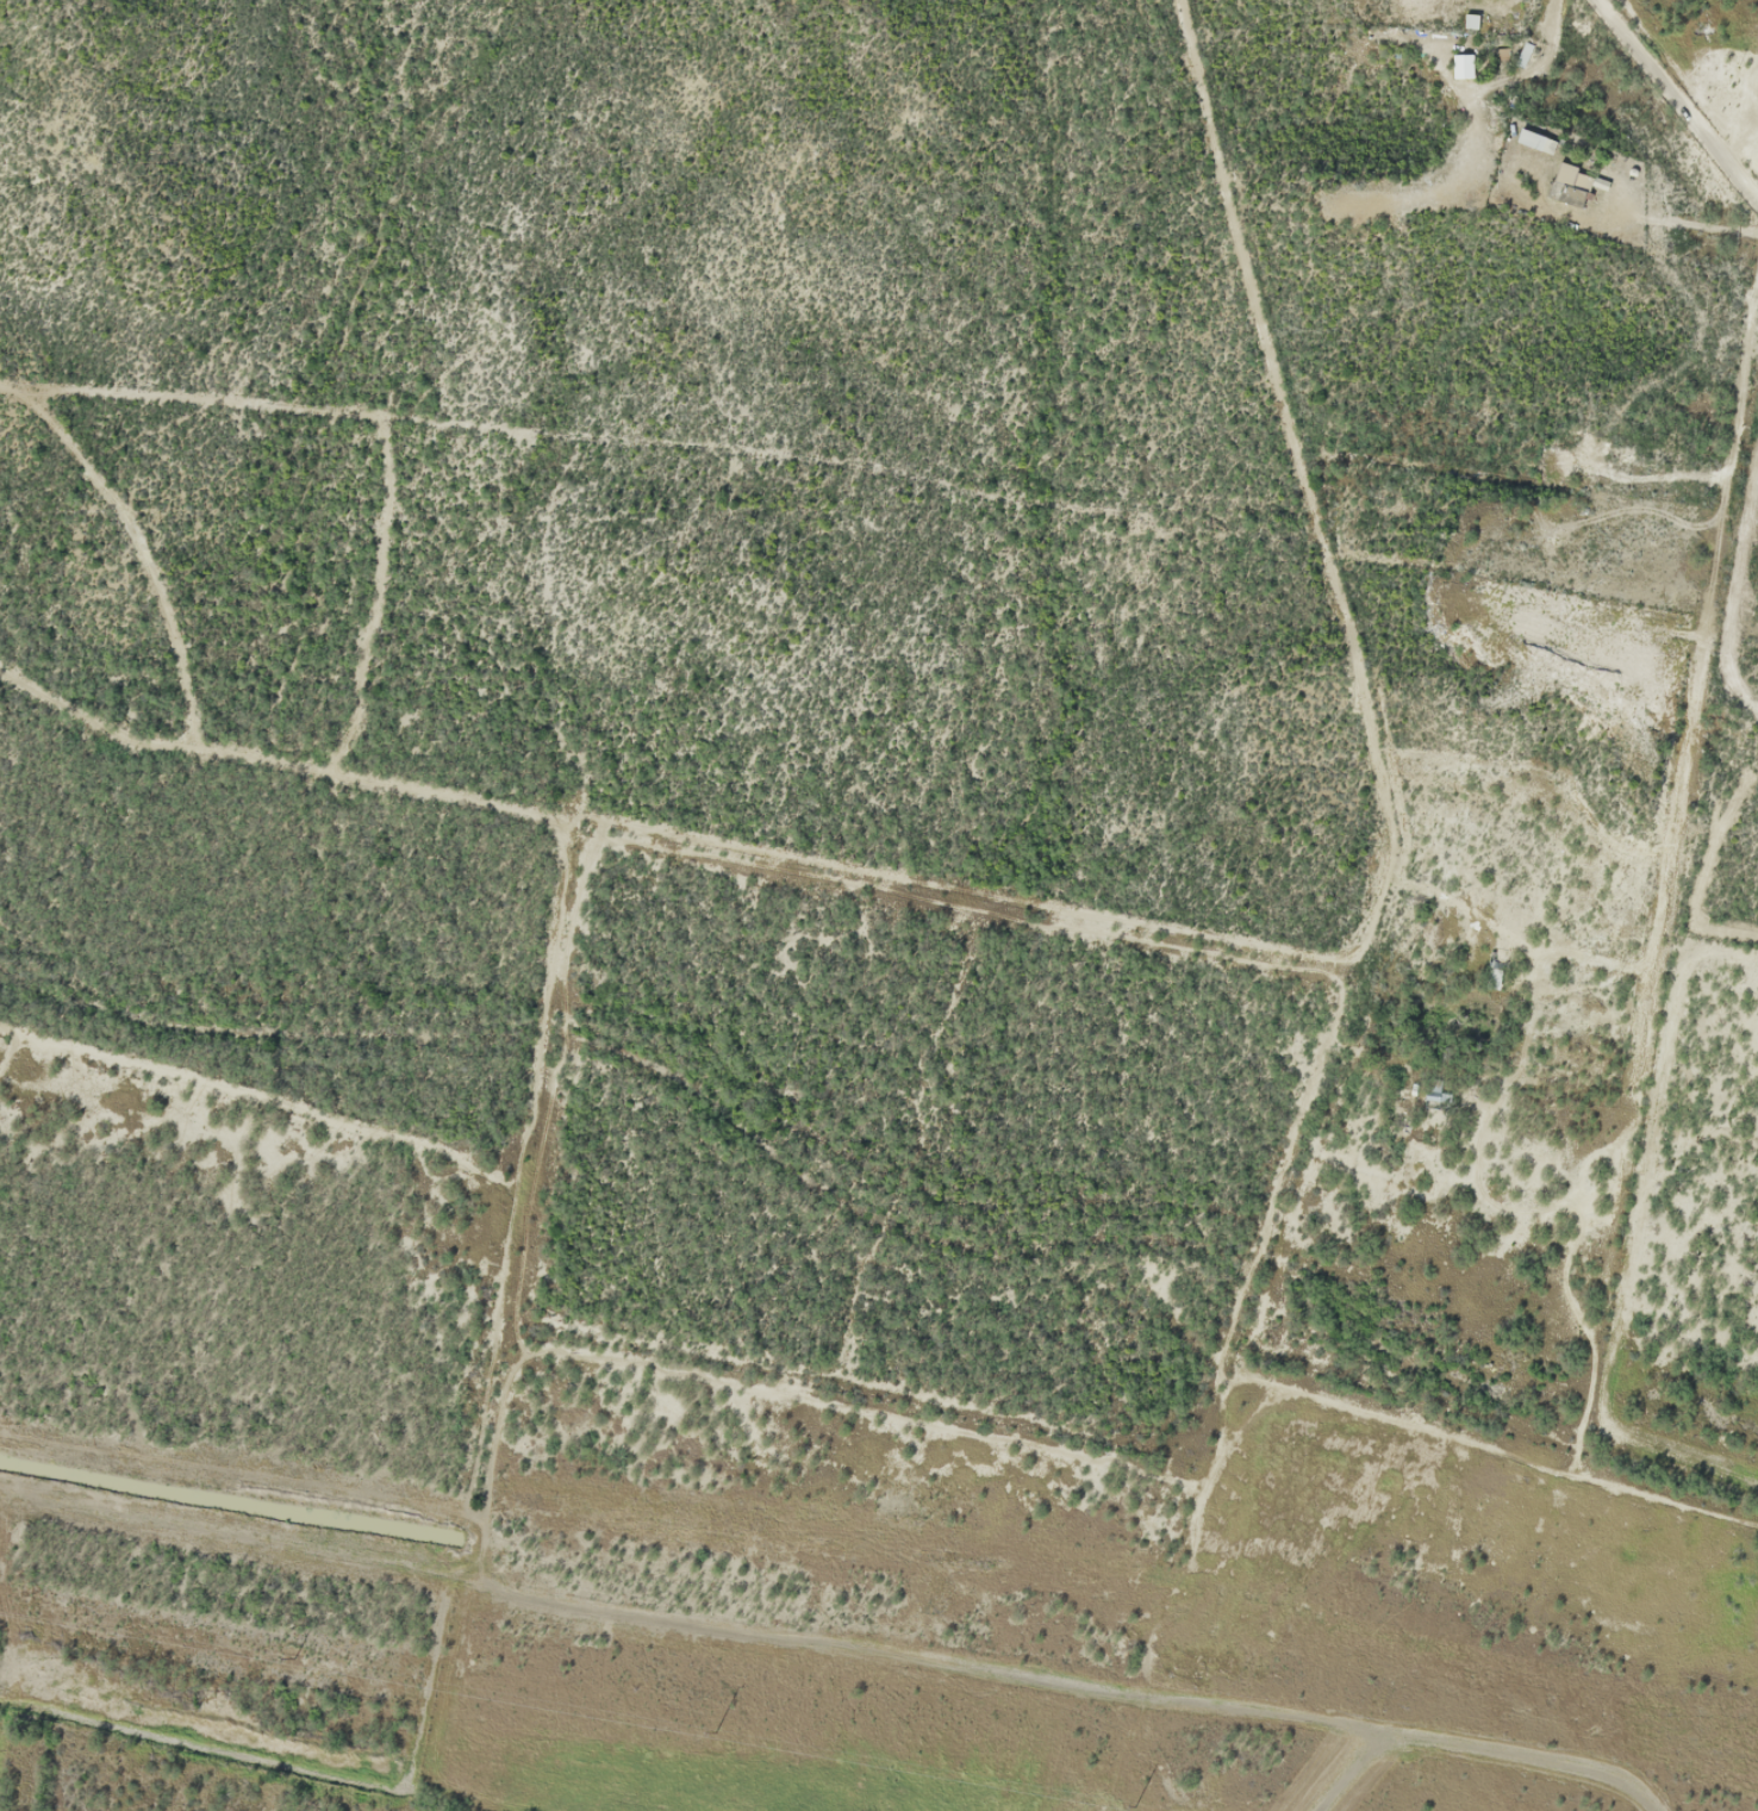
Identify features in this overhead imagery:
building: (1461, 64)
road: (1673, 101)
building: (1436, 1089)

